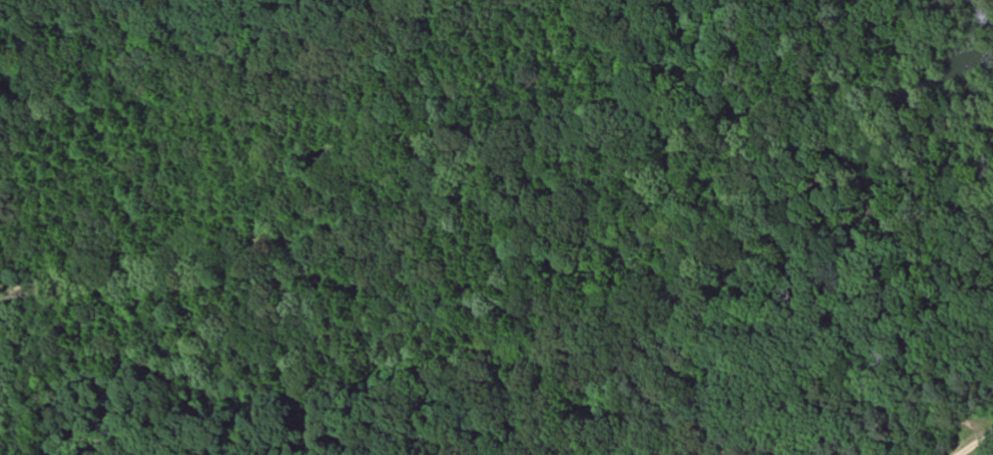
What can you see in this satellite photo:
road: (650, 230)
road: (934, 429)
road: (716, 442)
road: (974, 444)

